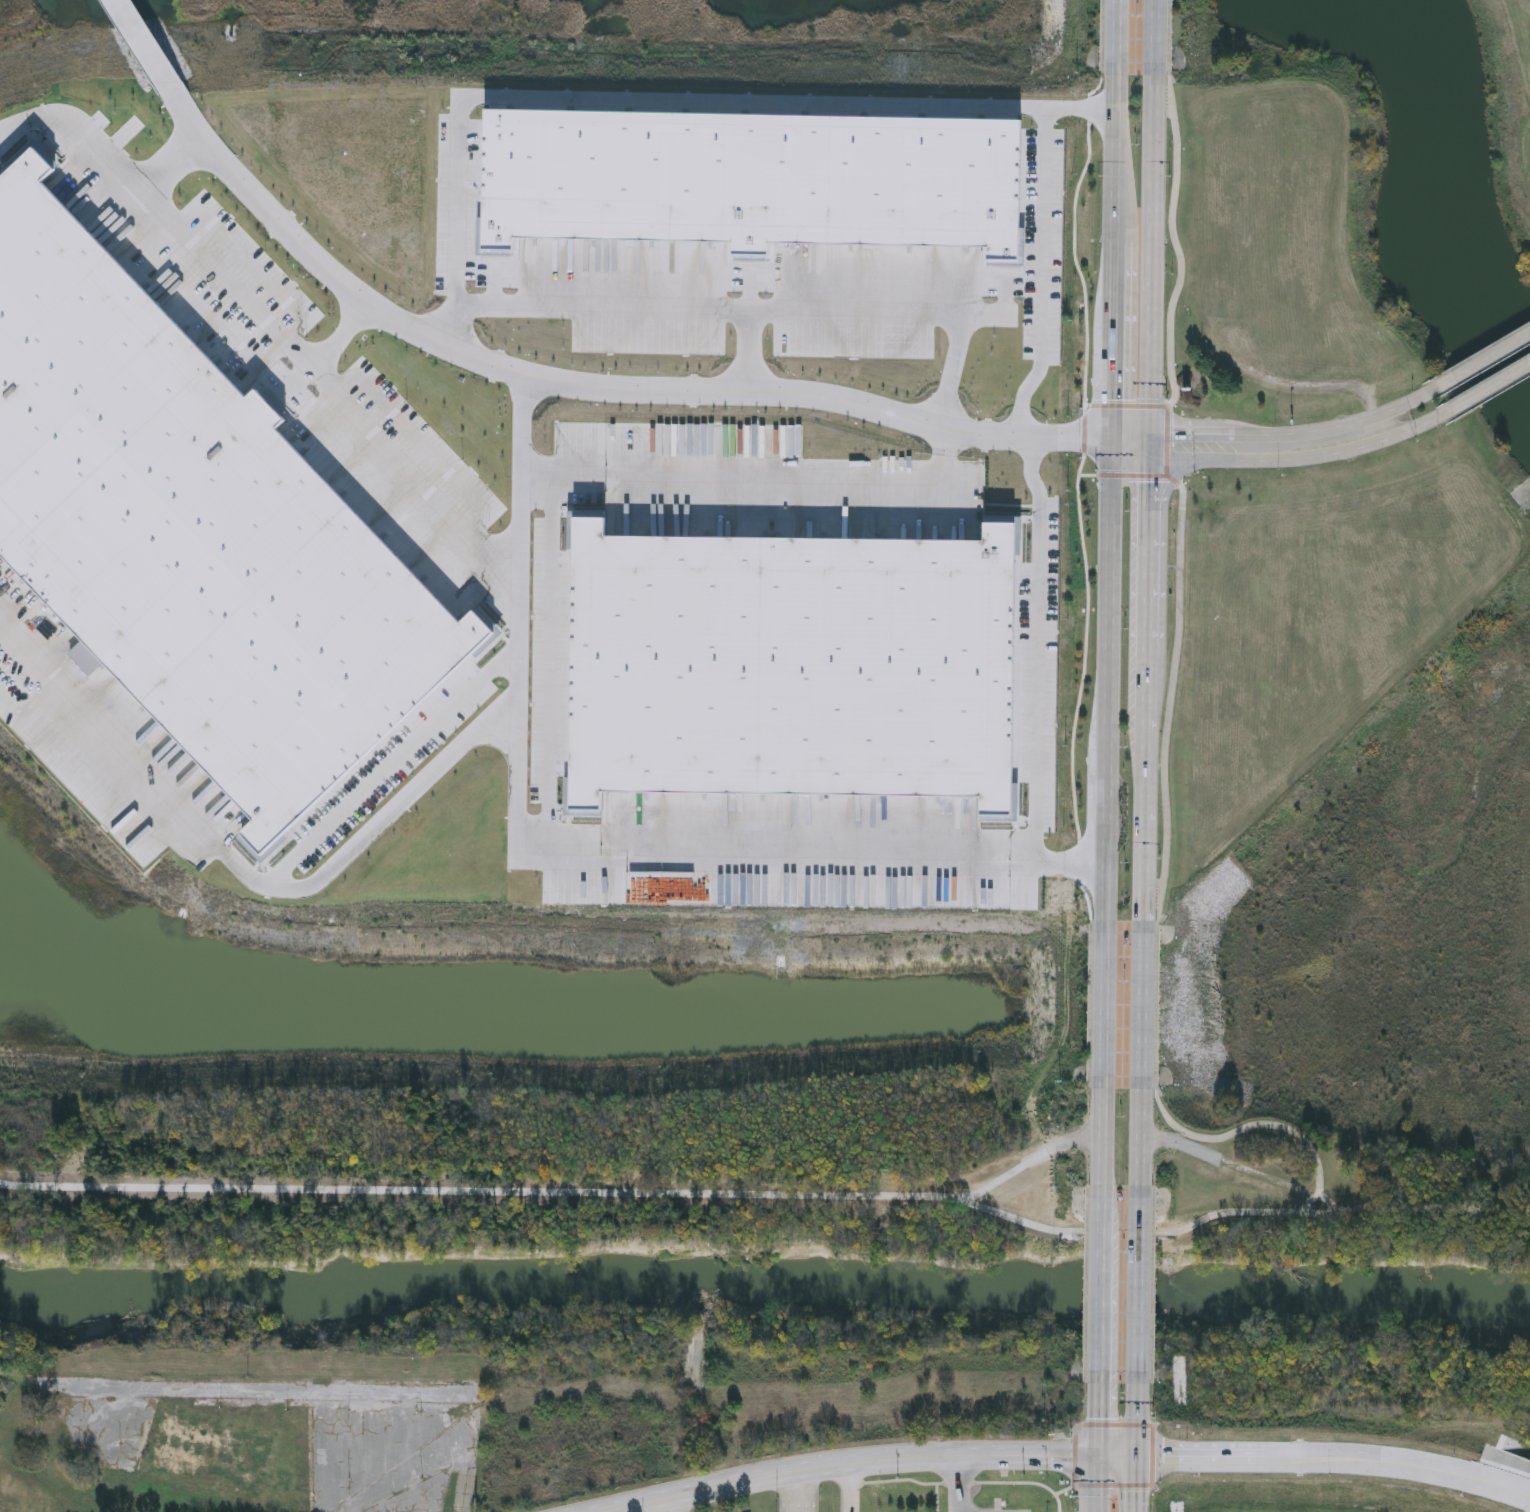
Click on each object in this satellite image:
road: (1117, 37)
road: (1154, 37)
road: (1103, 38)
road: (1171, 38)
road: (149, 47)
road: (1116, 159)
road: (110, 161)
road: (1151, 253)
road: (744, 310)
road: (343, 328)
road: (1113, 337)
road: (748, 351)
road: (1475, 366)
road: (566, 375)
road: (1489, 391)
road: (1124, 407)
road: (374, 425)
traffic signals: (1113, 433)
road: (1131, 433)
traffic signals: (1149, 433)
road: (1287, 434)
road: (1084, 435)
road: (1112, 446)
road: (1149, 446)
road: (1084, 448)
road: (951, 452)
traffic signals: (1112, 460)
road: (1131, 460)
traffic signals: (1150, 460)
road: (1303, 462)
road: (523, 475)
road: (1124, 476)
road: (1183, 492)
road: (1079, 496)
road: (1166, 547)
road: (1149, 558)
road: (1108, 690)
road: (1146, 788)
road: (1037, 832)
road: (234, 858)
road: (1091, 1004)
road: (1104, 1004)
road: (1143, 1004)
road: (1158, 1006)
road: (1102, 1136)
road: (1141, 1136)
road: (1320, 1183)
road: (557, 1196)
road: (1122, 1225)
road: (1109, 1282)
river: (766, 1284)
road: (1147, 1288)
road: (400, 1382)
road: (1101, 1418)
road: (1136, 1424)
traffic signals: (1102, 1456)
road: (1117, 1456)
traffic signals: (1132, 1457)
building: (210, 1458)
road: (1333, 1459)
road: (859, 1465)
road: (1101, 1484)
road: (1132, 1484)
road: (959, 1486)
road: (854, 1489)
road: (799, 1493)
road: (678, 1505)

